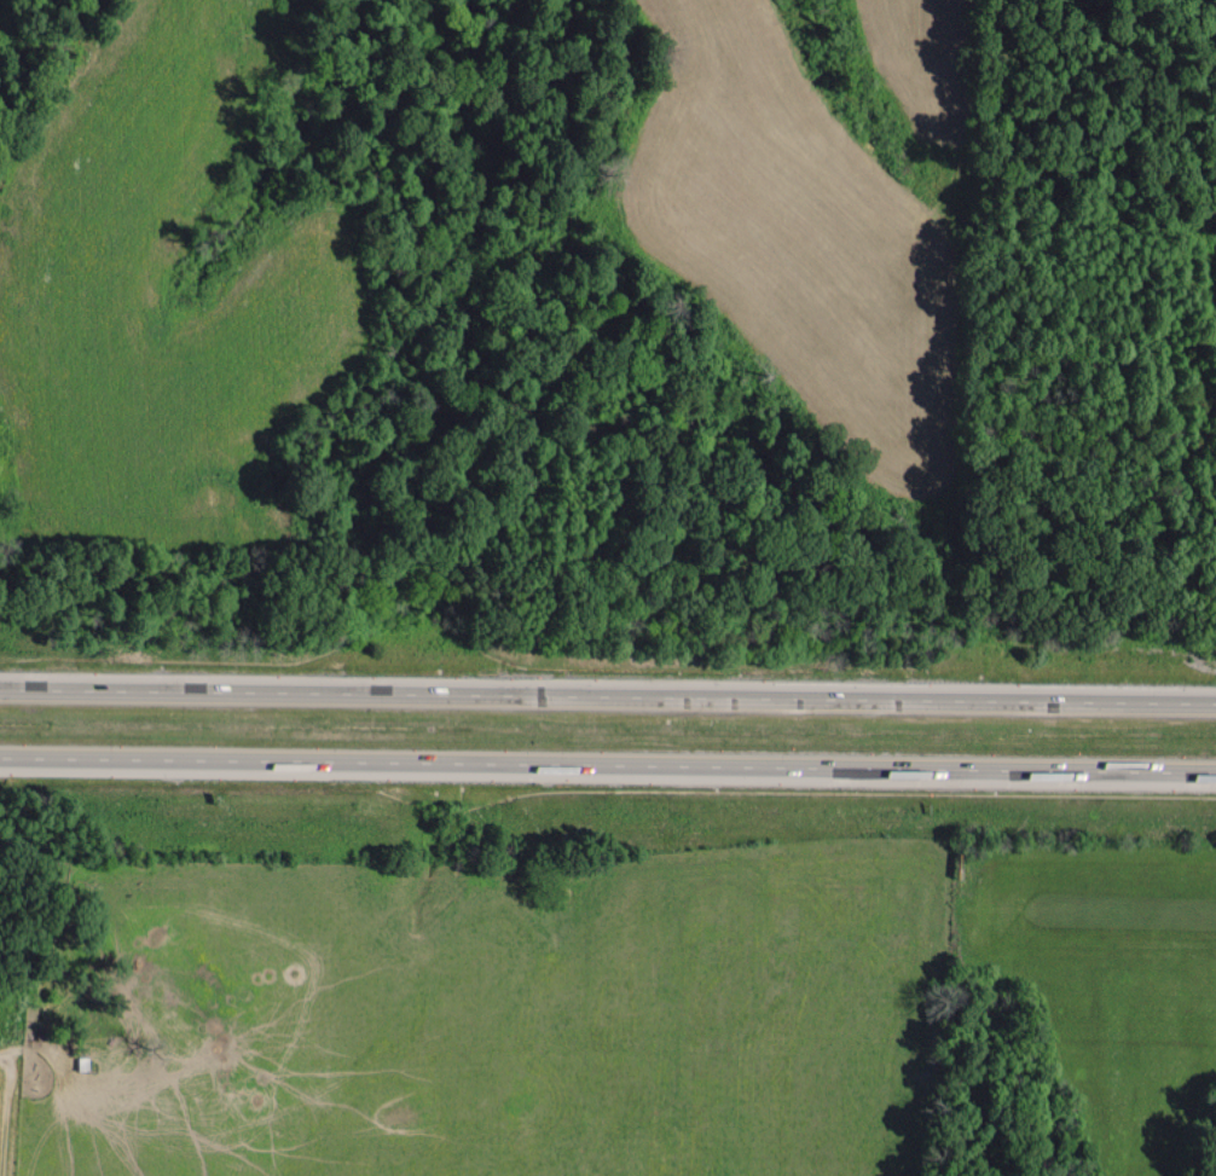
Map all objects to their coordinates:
road: (608, 691)
road: (608, 758)
airport runway: (1101, 894)

